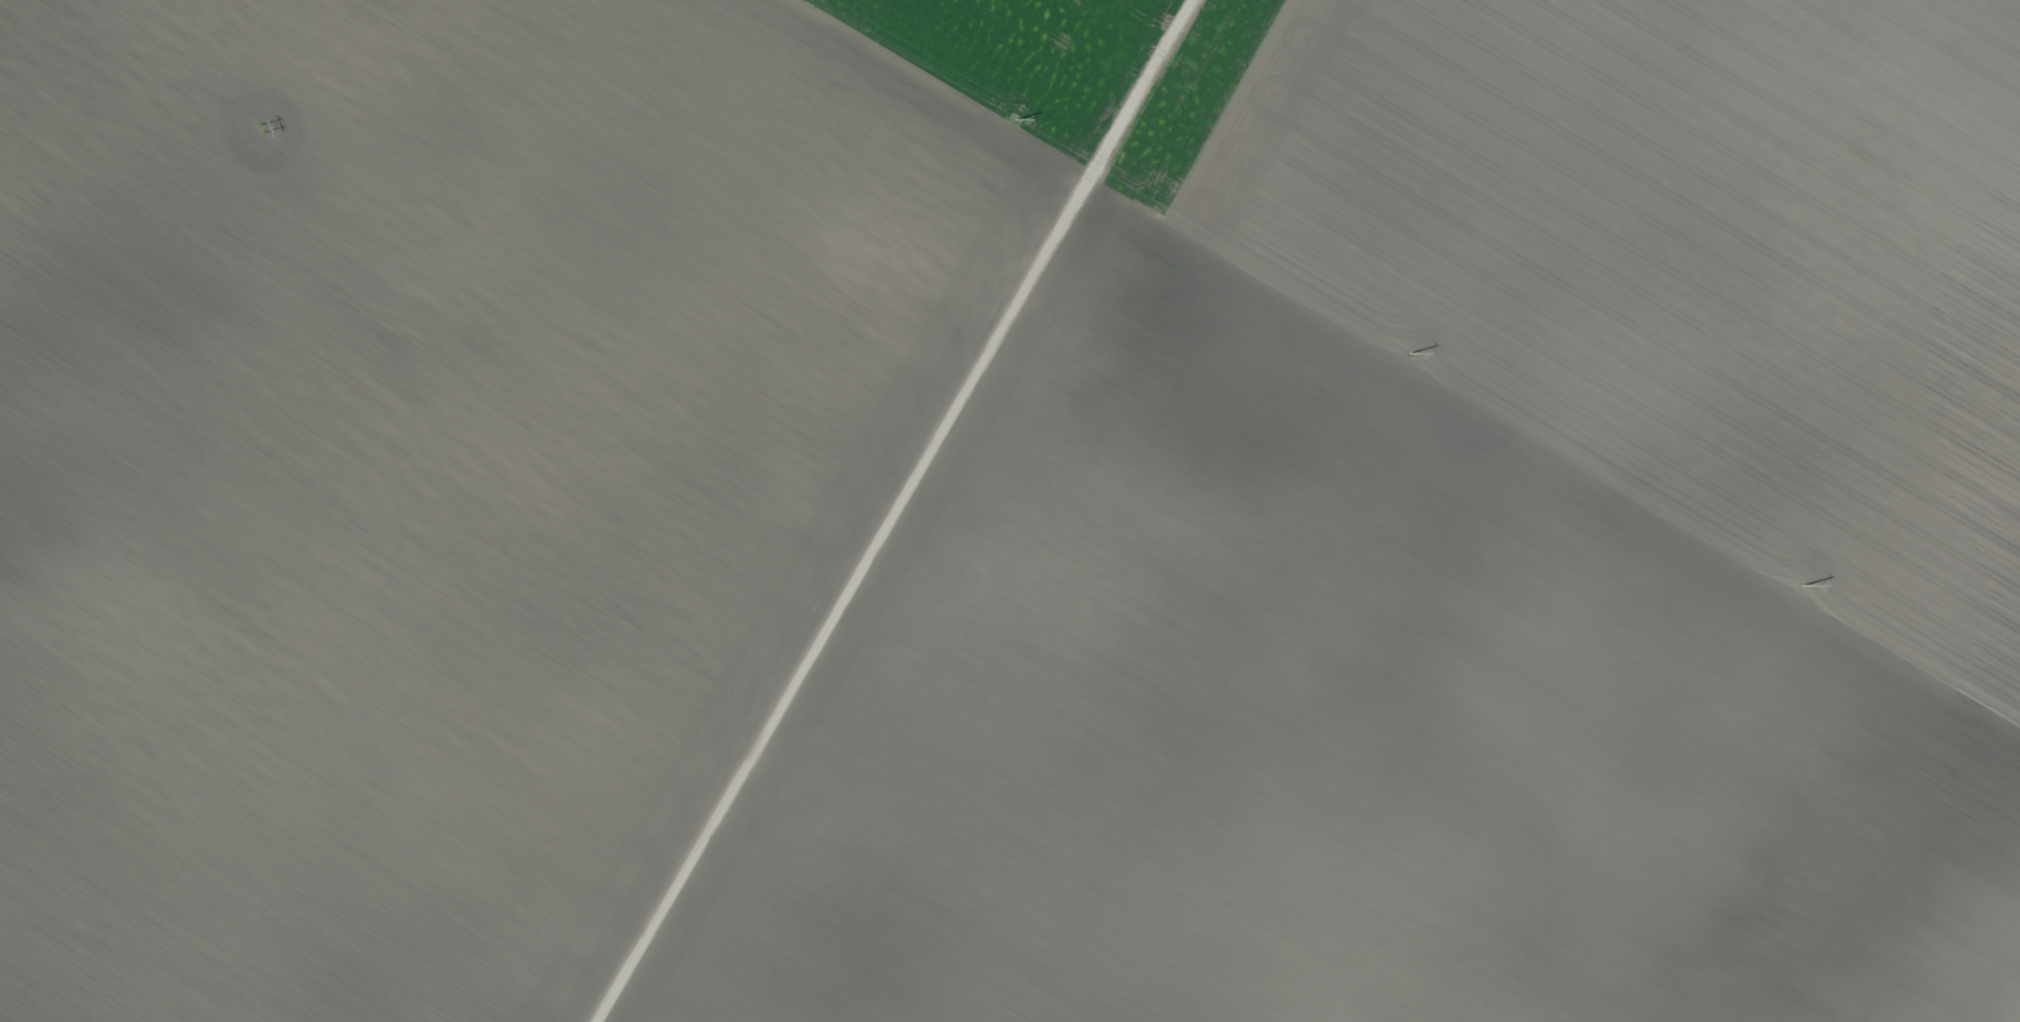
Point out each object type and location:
power tower: (1016, 118)
power tower: (261, 127)
power tower: (1412, 353)
road: (897, 511)
power tower: (1801, 585)

